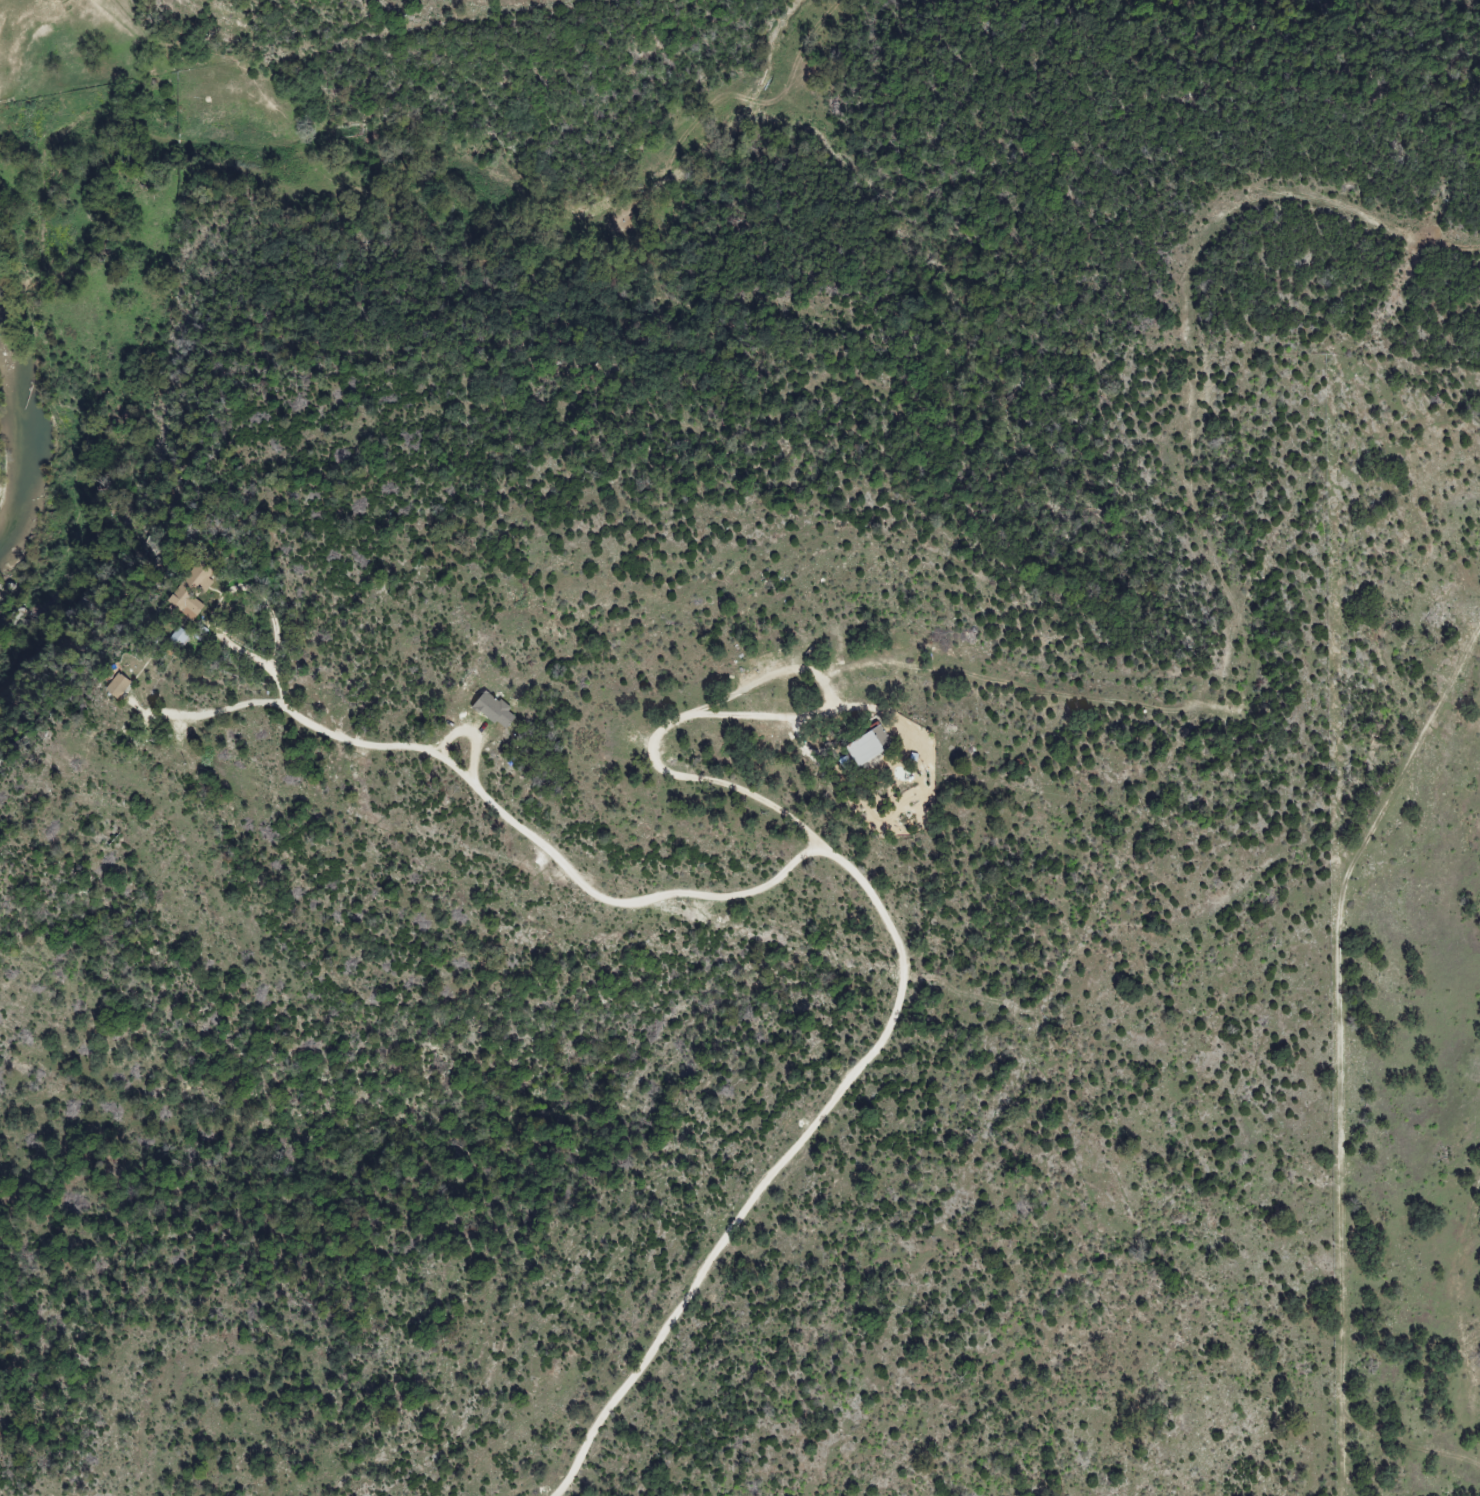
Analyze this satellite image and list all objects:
river: (28, 427)
building: (192, 590)
building: (117, 685)
building: (494, 709)
road: (216, 711)
building: (868, 745)
road: (658, 765)
road: (864, 866)

